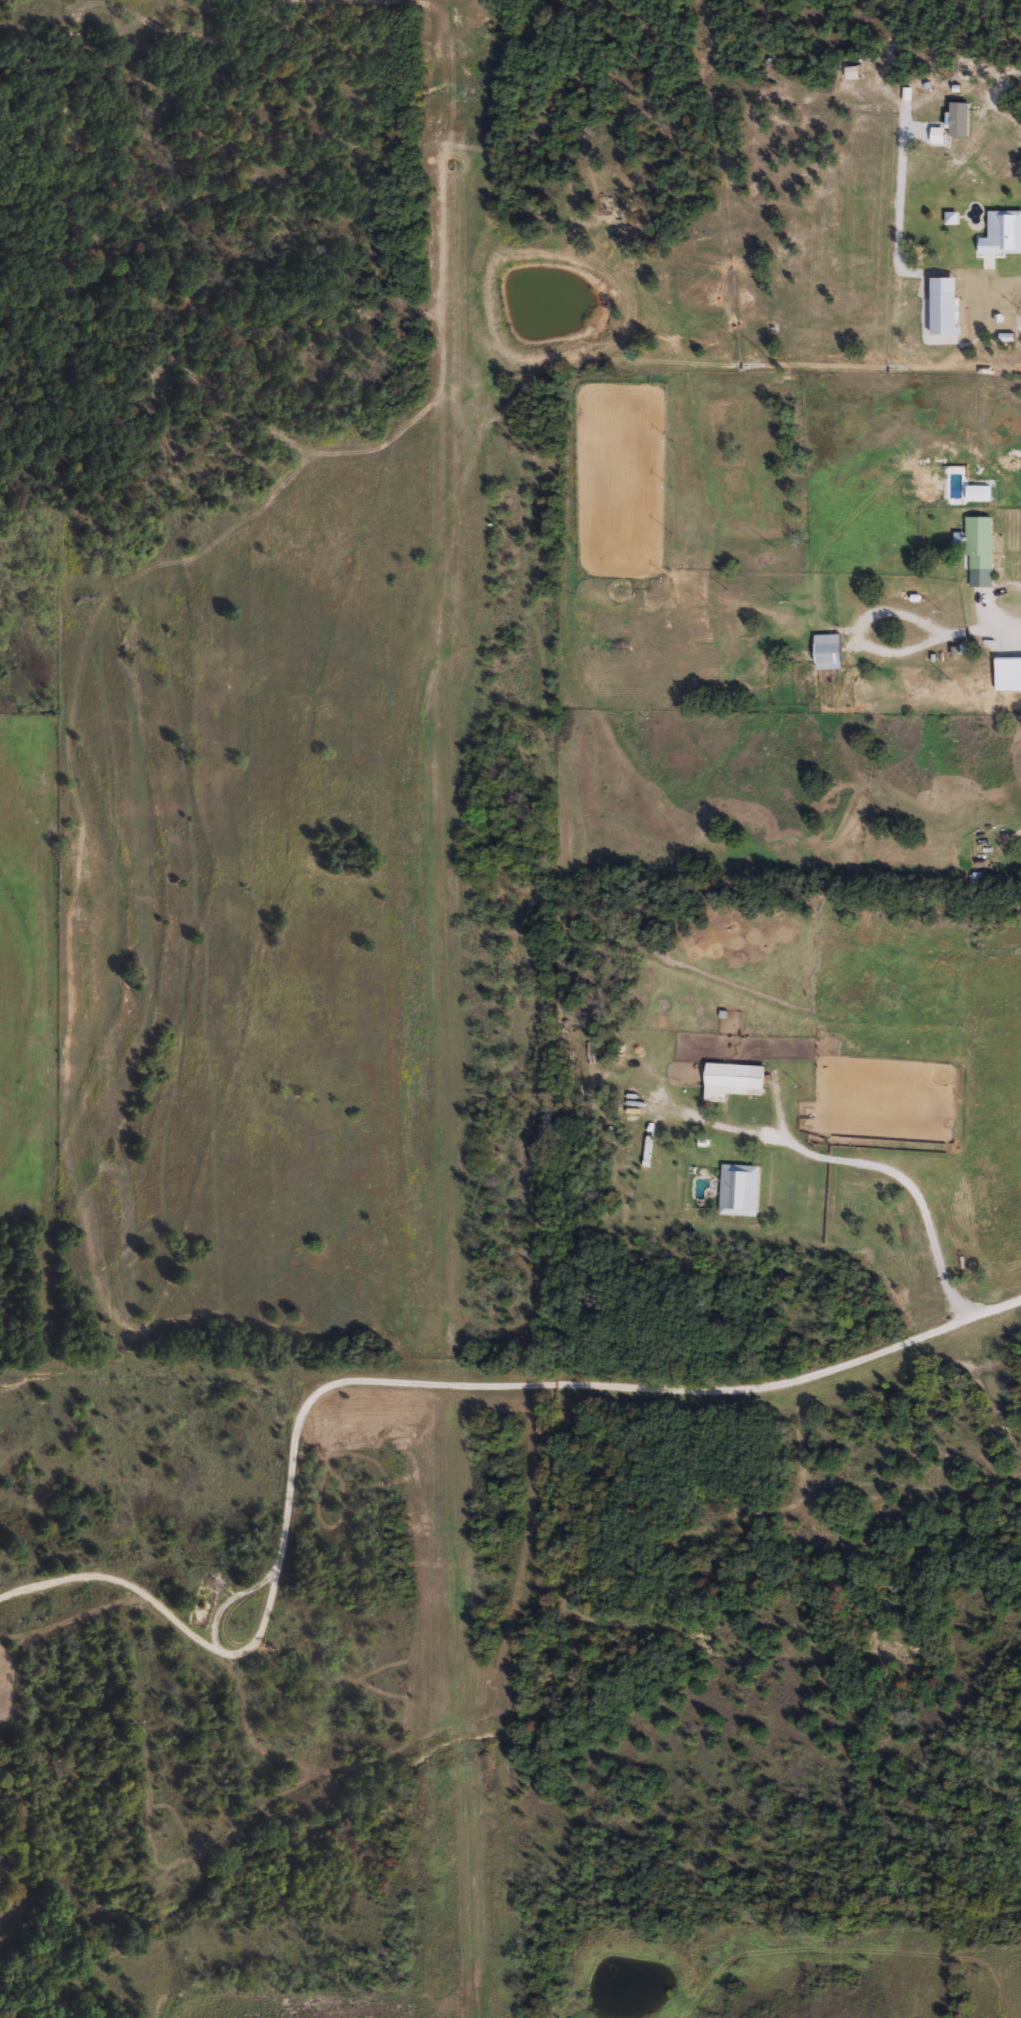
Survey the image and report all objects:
road: (1008, 287)
building: (977, 492)
building: (979, 551)
road: (1005, 625)
building: (828, 655)
building: (1007, 673)
building: (727, 1074)
building: (739, 1189)
road: (921, 1190)
road: (400, 1383)

